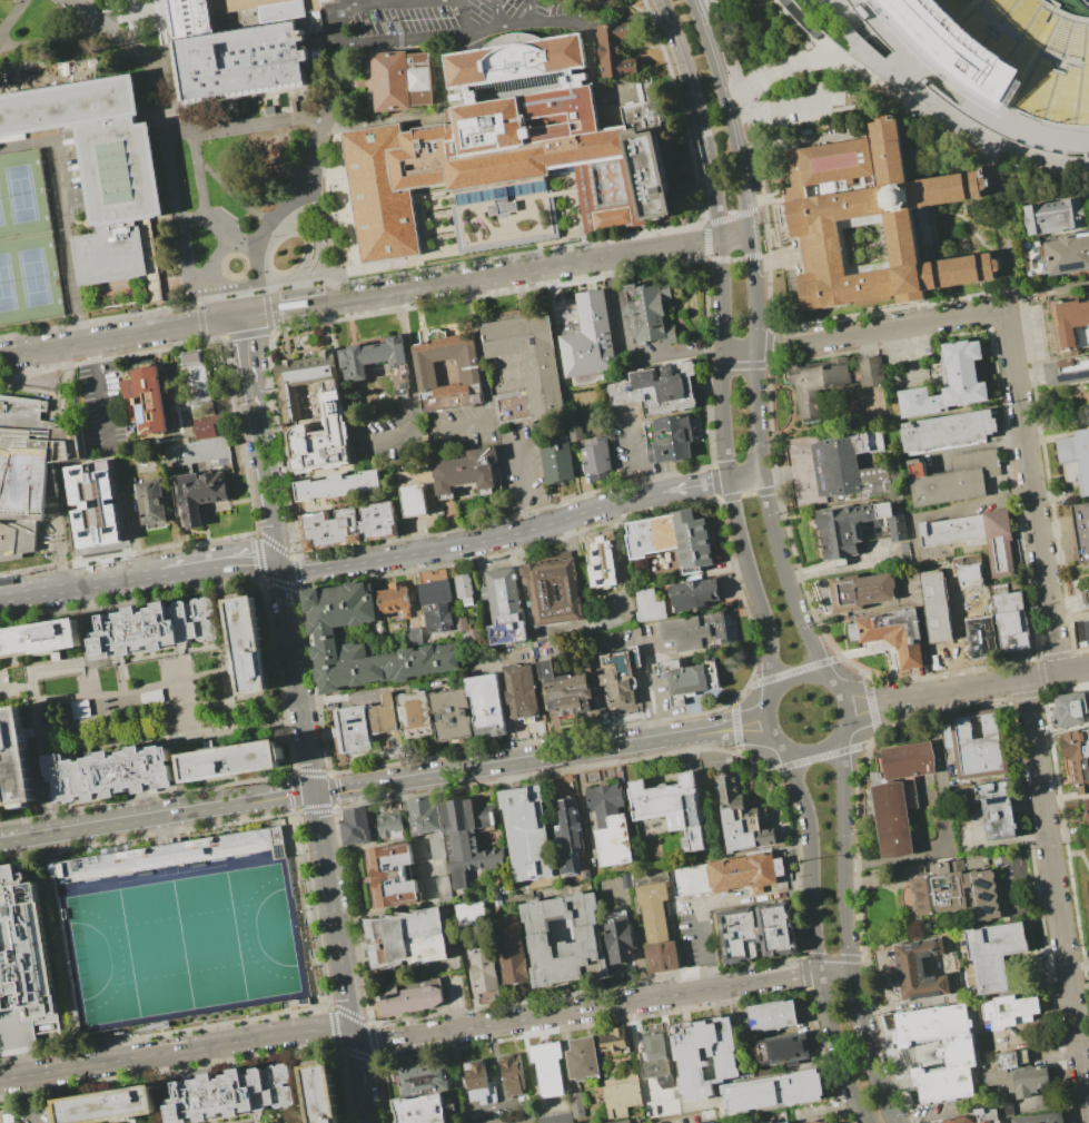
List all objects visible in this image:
road: (248, 0)
road: (373, 1)
park: (1087, 1)
road: (336, 2)
road: (369, 2)
road: (228, 3)
road: (320, 3)
road: (164, 8)
road: (253, 8)
road: (141, 11)
road: (529, 13)
road: (497, 14)
road: (465, 16)
road: (109, 17)
road: (13, 19)
road: (601, 19)
road: (802, 19)
parking lot: (445, 20)
road: (160, 22)
road: (498, 29)
road: (800, 29)
road: (402, 38)
road: (323, 40)
road: (887, 40)
road: (60, 41)
road: (863, 42)
road: (157, 46)
road: (724, 47)
road: (824, 48)
building: (232, 50)
building: (615, 50)
stadium: (1010, 50)
building: (1009, 51)
road: (834, 52)
road: (333, 59)
road: (819, 59)
road: (836, 61)
road: (792, 65)
road: (776, 70)
building: (402, 78)
road: (904, 78)
road: (761, 79)
road: (745, 91)
road: (682, 108)
road: (940, 108)
road: (775, 109)
parking lot: (793, 109)
road: (726, 116)
road: (704, 117)
road: (947, 120)
road: (330, 122)
road: (245, 125)
road: (167, 132)
road: (1022, 132)
building: (479, 137)
road: (752, 146)
road: (1042, 159)
building: (99, 166)
road: (328, 170)
building: (633, 174)
road: (200, 175)
road: (235, 194)
park: (20, 196)
road: (781, 196)
road: (762, 199)
road: (774, 200)
road: (294, 203)
road: (317, 204)
road: (755, 205)
road: (772, 214)
road: (352, 215)
road: (730, 216)
building: (1058, 216)
park: (1, 217)
road: (62, 218)
building: (495, 219)
road: (166, 220)
road: (1009, 221)
road: (147, 224)
building: (879, 224)
road: (224, 225)
road: (734, 238)
road: (330, 239)
road: (705, 240)
park: (24, 243)
building: (26, 243)
parking lot: (28, 244)
road: (687, 244)
road: (149, 253)
road: (746, 256)
building: (1059, 256)
road: (735, 257)
building: (149, 258)
road: (717, 258)
road: (212, 263)
fountain: (236, 265)
road: (448, 265)
park: (33, 279)
road: (174, 283)
road: (449, 283)
park: (7, 287)
road: (263, 288)
road: (1062, 292)
road: (753, 293)
road: (488, 294)
road: (197, 299)
road: (398, 299)
road: (1013, 305)
road: (266, 311)
building: (649, 314)
road: (97, 321)
building: (1068, 321)
road: (200, 322)
road: (879, 329)
road: (246, 334)
road: (122, 336)
building: (590, 339)
road: (740, 349)
road: (680, 353)
road: (111, 356)
building: (190, 357)
road: (724, 358)
building: (376, 362)
building: (526, 370)
building: (871, 372)
building: (1069, 372)
building: (469, 373)
building: (962, 373)
road: (482, 375)
building: (299, 377)
building: (195, 380)
building: (818, 382)
building: (659, 388)
road: (100, 393)
road: (413, 395)
building: (149, 400)
parking lot: (102, 408)
road: (753, 412)
building: (214, 427)
building: (576, 431)
building: (949, 431)
road: (238, 435)
building: (677, 436)
building: (324, 437)
road: (259, 442)
road: (632, 457)
building: (596, 459)
building: (1076, 460)
building: (556, 461)
building: (838, 465)
building: (27, 470)
building: (466, 471)
road: (745, 476)
building: (962, 480)
building: (336, 485)
road: (695, 485)
road: (524, 487)
building: (200, 493)
road: (1033, 493)
building: (415, 500)
building: (92, 503)
building: (151, 504)
building: (347, 525)
building: (855, 526)
building: (1082, 530)
building: (974, 536)
road: (265, 539)
building: (673, 539)
road: (472, 543)
road: (622, 544)
road: (257, 549)
road: (127, 553)
building: (603, 560)
road: (219, 564)
traffic signals: (279, 567)
building: (967, 567)
road: (784, 577)
road: (755, 583)
road: (80, 584)
building: (465, 588)
building: (553, 591)
building: (861, 591)
building: (435, 592)
building: (694, 594)
building: (396, 599)
building: (1083, 599)
road: (220, 602)
building: (650, 605)
building: (505, 607)
building: (934, 607)
parking lot: (614, 610)
building: (440, 621)
building: (1012, 621)
building: (462, 624)
road: (85, 627)
building: (156, 628)
building: (1087, 628)
building: (686, 632)
building: (327, 634)
building: (893, 634)
building: (40, 639)
building: (981, 639)
parking lot: (635, 641)
building: (248, 646)
road: (176, 650)
road: (154, 653)
road: (55, 658)
road: (118, 659)
road: (229, 669)
road: (219, 670)
road: (647, 670)
road: (1075, 670)
road: (65, 671)
road: (947, 673)
street lamp: (755, 676)
road: (795, 676)
road: (1043, 676)
road: (297, 679)
building: (691, 680)
road: (17, 683)
building: (620, 683)
road: (23, 686)
road: (89, 688)
building: (564, 690)
road: (129, 691)
building: (522, 691)
road: (937, 692)
building: (151, 696)
road: (174, 696)
road: (31, 699)
road: (132, 700)
parking lot: (665, 700)
road: (36, 701)
road: (225, 701)
road: (848, 702)
building: (487, 705)
road: (92, 707)
building: (80, 708)
building: (1070, 708)
road: (135, 710)
building: (453, 715)
building: (416, 716)
road: (287, 721)
building: (367, 723)
road: (765, 723)
road: (246, 727)
road: (207, 731)
road: (190, 740)
road: (206, 741)
road: (146, 743)
building: (979, 743)
road: (816, 756)
building: (17, 757)
road: (541, 759)
building: (909, 760)
building: (229, 761)
building: (1077, 761)
building: (111, 775)
traffic signals: (315, 792)
parking lot: (1, 800)
building: (669, 808)
building: (1087, 808)
building: (1001, 809)
building: (423, 814)
road: (157, 815)
building: (742, 818)
building: (892, 820)
road: (943, 820)
road: (50, 824)
building: (390, 825)
building: (356, 826)
building: (610, 826)
road: (161, 829)
building: (528, 833)
building: (570, 834)
building: (468, 841)
building: (438, 846)
road: (843, 856)
road: (812, 859)
building: (731, 874)
building: (393, 875)
building: (959, 895)
road: (1057, 896)
road: (717, 905)
road: (334, 914)
building: (177, 928)
parking lot: (177, 928)
building: (657, 928)
building: (537, 932)
building: (758, 933)
park: (177, 934)
building: (406, 938)
building: (620, 942)
building: (476, 948)
building: (511, 949)
road: (59, 950)
building: (994, 954)
building: (26, 965)
road: (1078, 966)
building: (919, 971)
road: (835, 972)
building: (409, 999)
road: (621, 1003)
building: (1009, 1008)
building: (772, 1016)
road: (1082, 1019)
traffic signals: (354, 1035)
road: (387, 1040)
building: (615, 1041)
road: (834, 1044)
road: (108, 1045)
road: (868, 1048)
building: (781, 1050)
building: (940, 1050)
road: (177, 1051)
building: (582, 1058)
building: (703, 1058)
building: (656, 1061)
building: (548, 1068)
road: (296, 1072)
building: (513, 1076)
building: (1017, 1076)
building: (423, 1077)
road: (362, 1078)
building: (479, 1083)
road: (160, 1088)
building: (772, 1092)
building: (323, 1093)
building: (232, 1094)
building: (622, 1095)
road: (30, 1100)
building: (110, 1106)
building: (419, 1110)
building: (1004, 1110)
parking lot: (36, 1111)
building: (568, 1112)
road: (308, 1115)
road: (251, 1117)
road: (295, 1117)
road: (865, 1117)
building: (1040, 1117)
building: (514, 1119)
building: (974, 1119)
road: (238, 1120)
road: (129, 1121)
road: (256, 1121)
building: (618, 1121)
road: (253, 1122)
building: (715, 1122)
building: (786, 1122)

